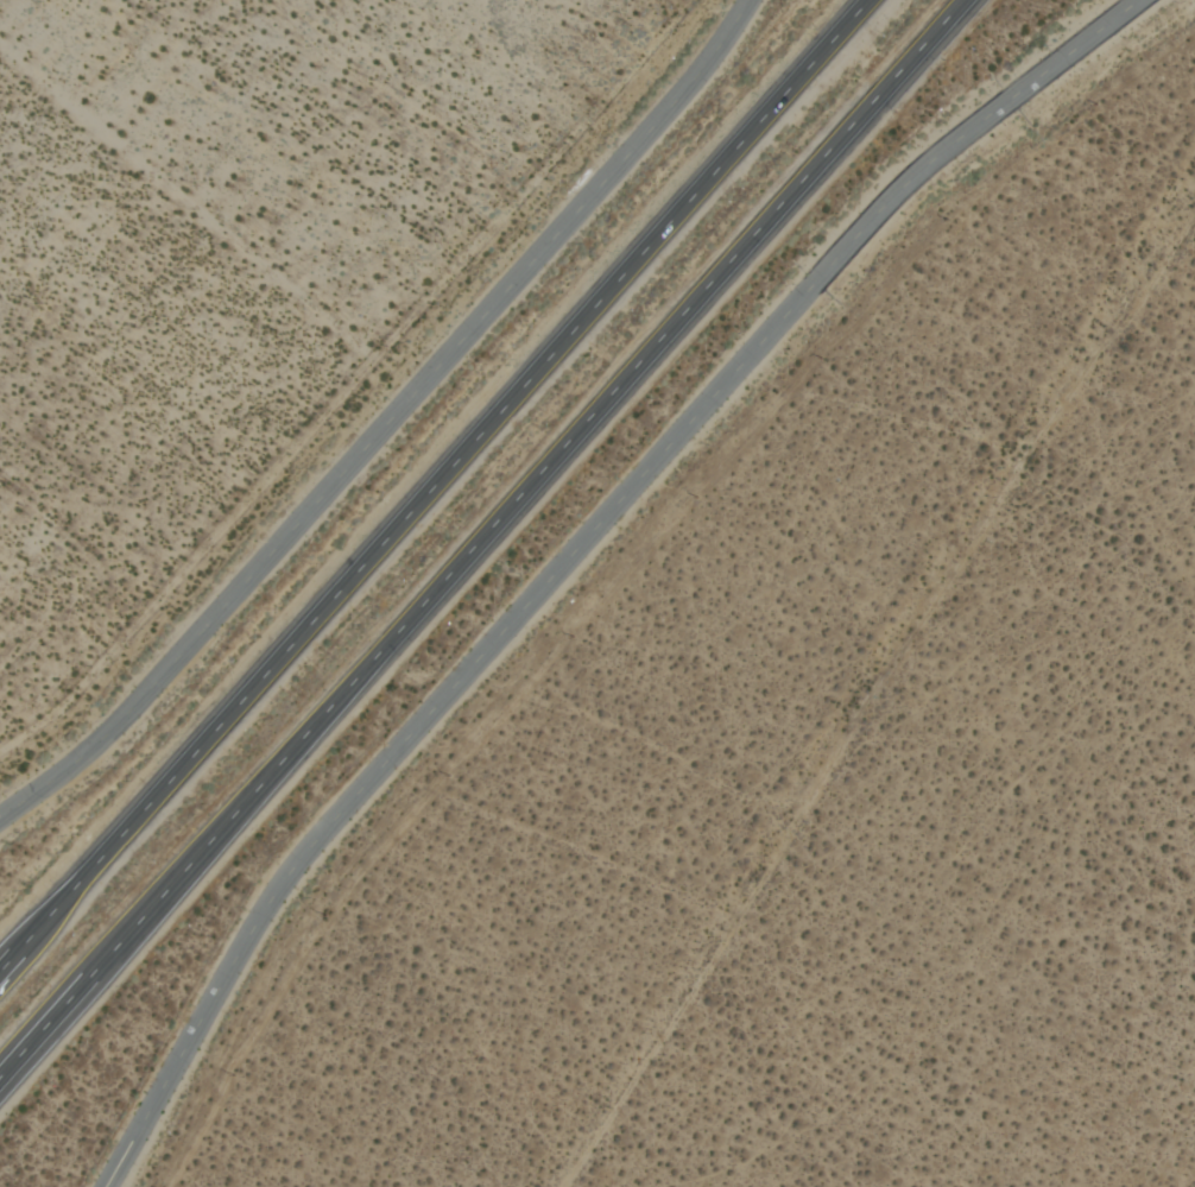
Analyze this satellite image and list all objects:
road: (388, 423)
road: (435, 486)
road: (481, 539)
road: (574, 551)

